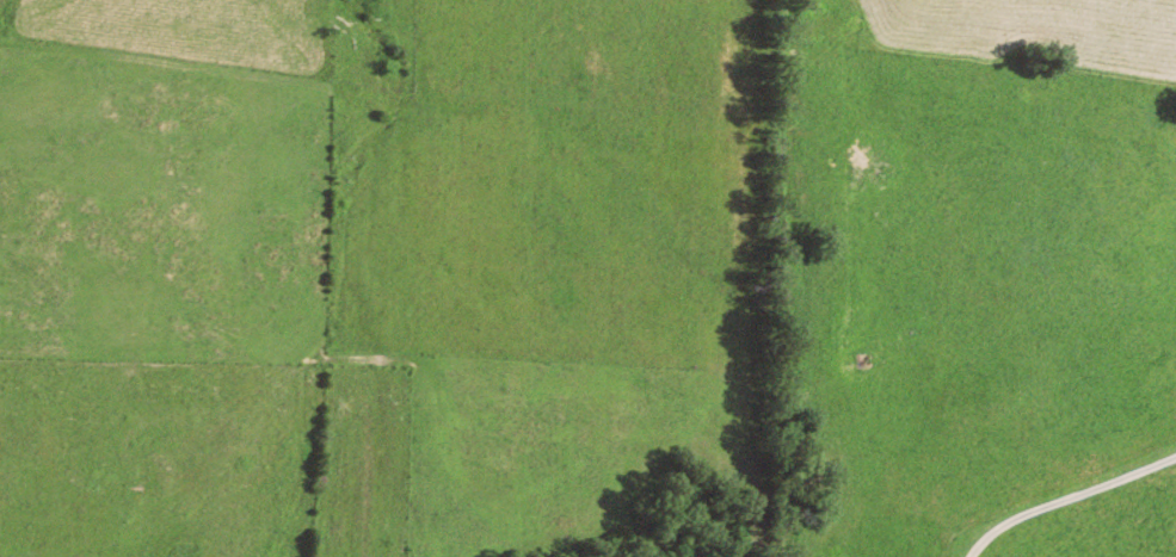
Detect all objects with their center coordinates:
road: (1066, 499)

